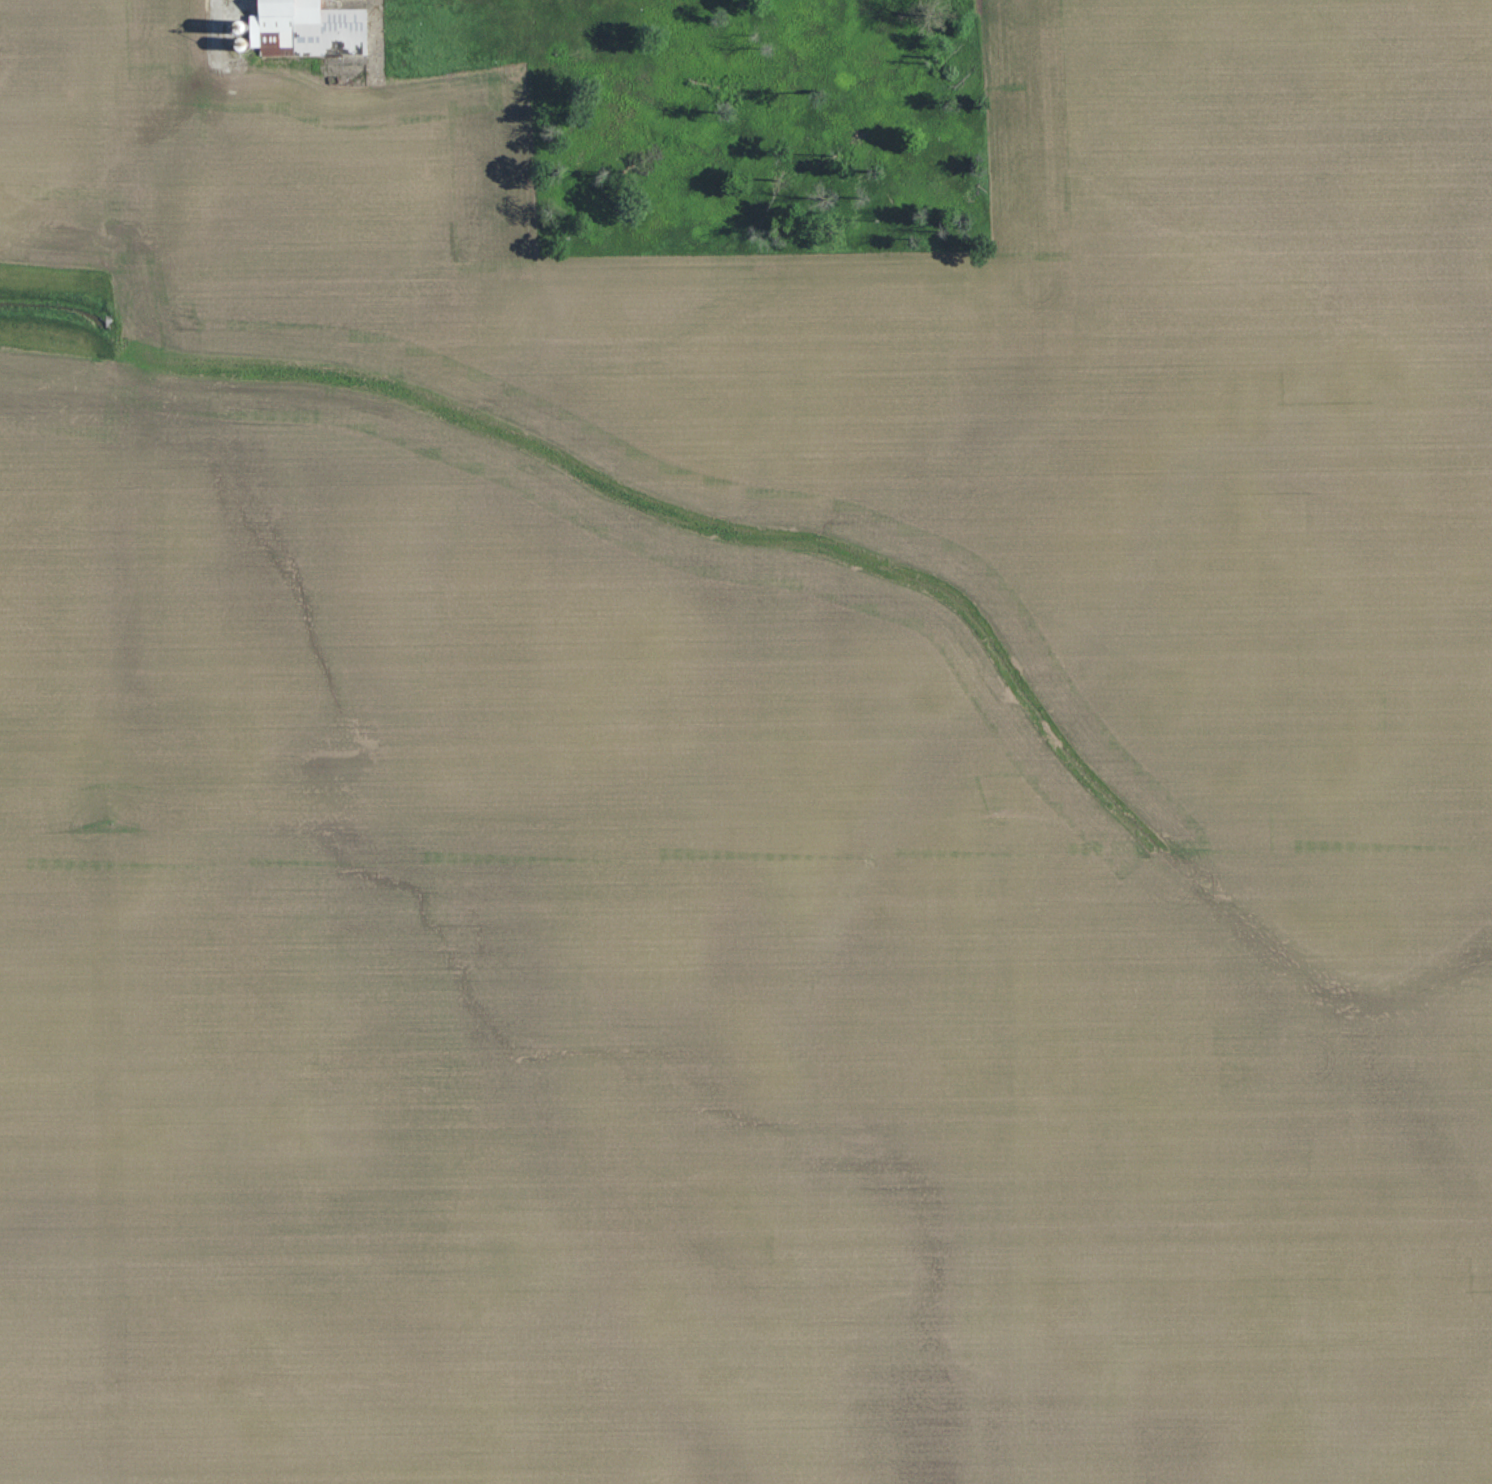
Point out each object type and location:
building: (308, 28)
building: (234, 31)

